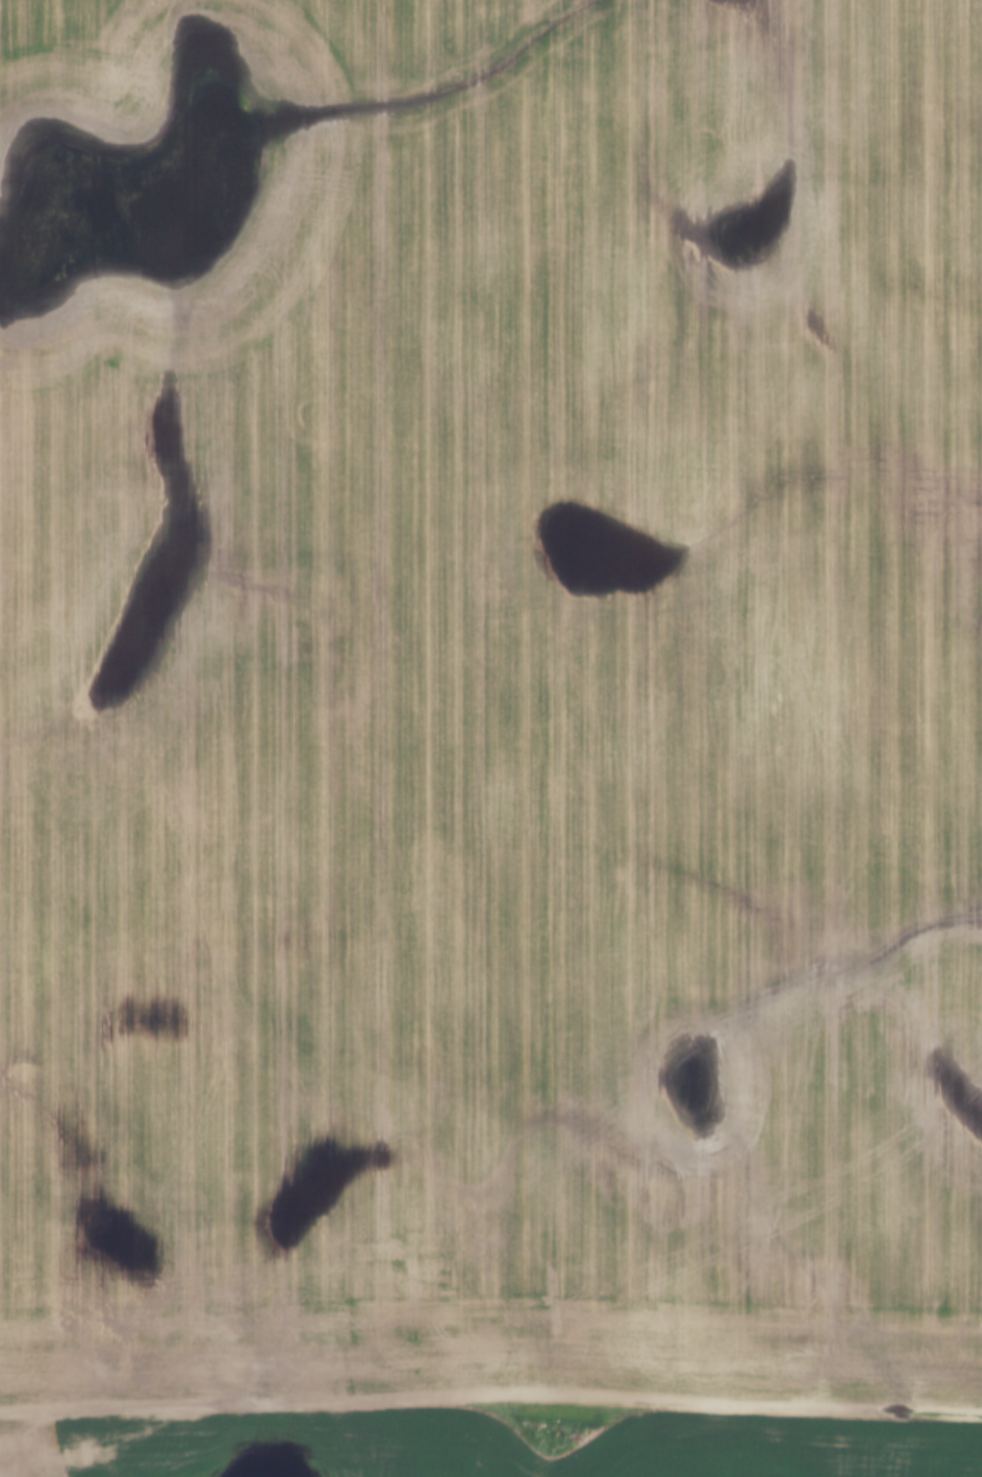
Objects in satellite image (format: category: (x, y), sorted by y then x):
road: (491, 1394)

